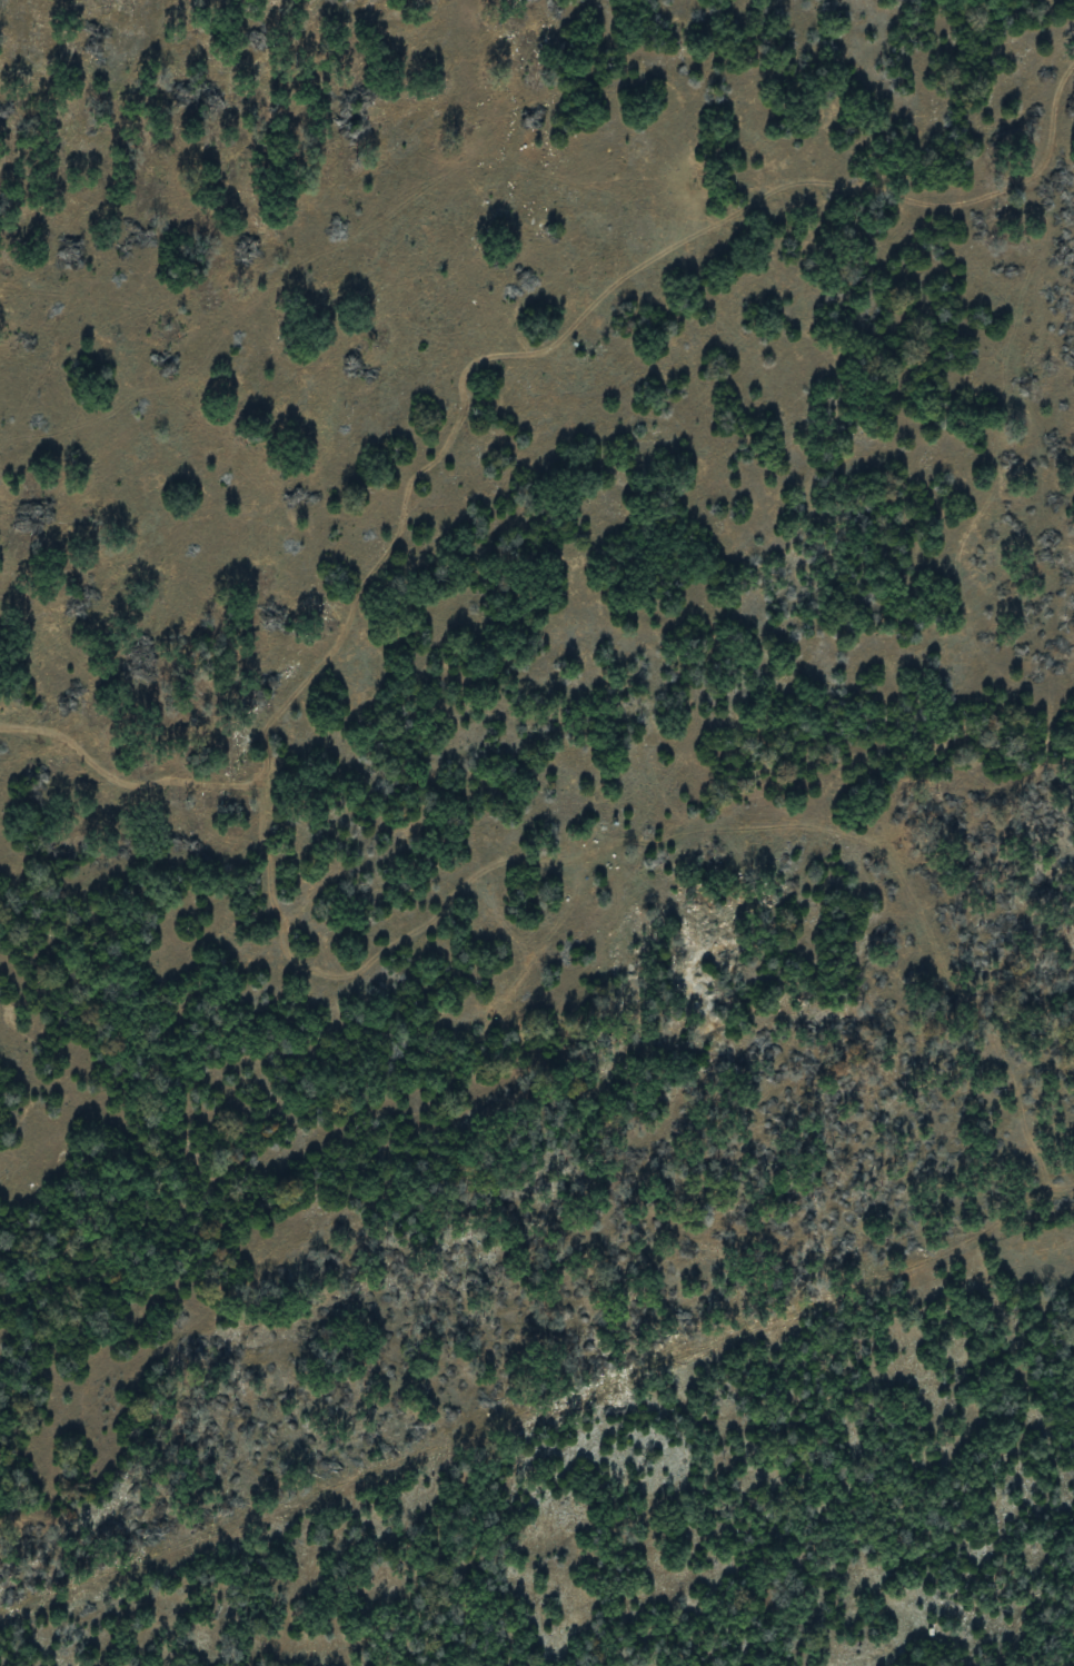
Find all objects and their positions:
quarry: (1047, 1331)
quarry: (668, 1526)

